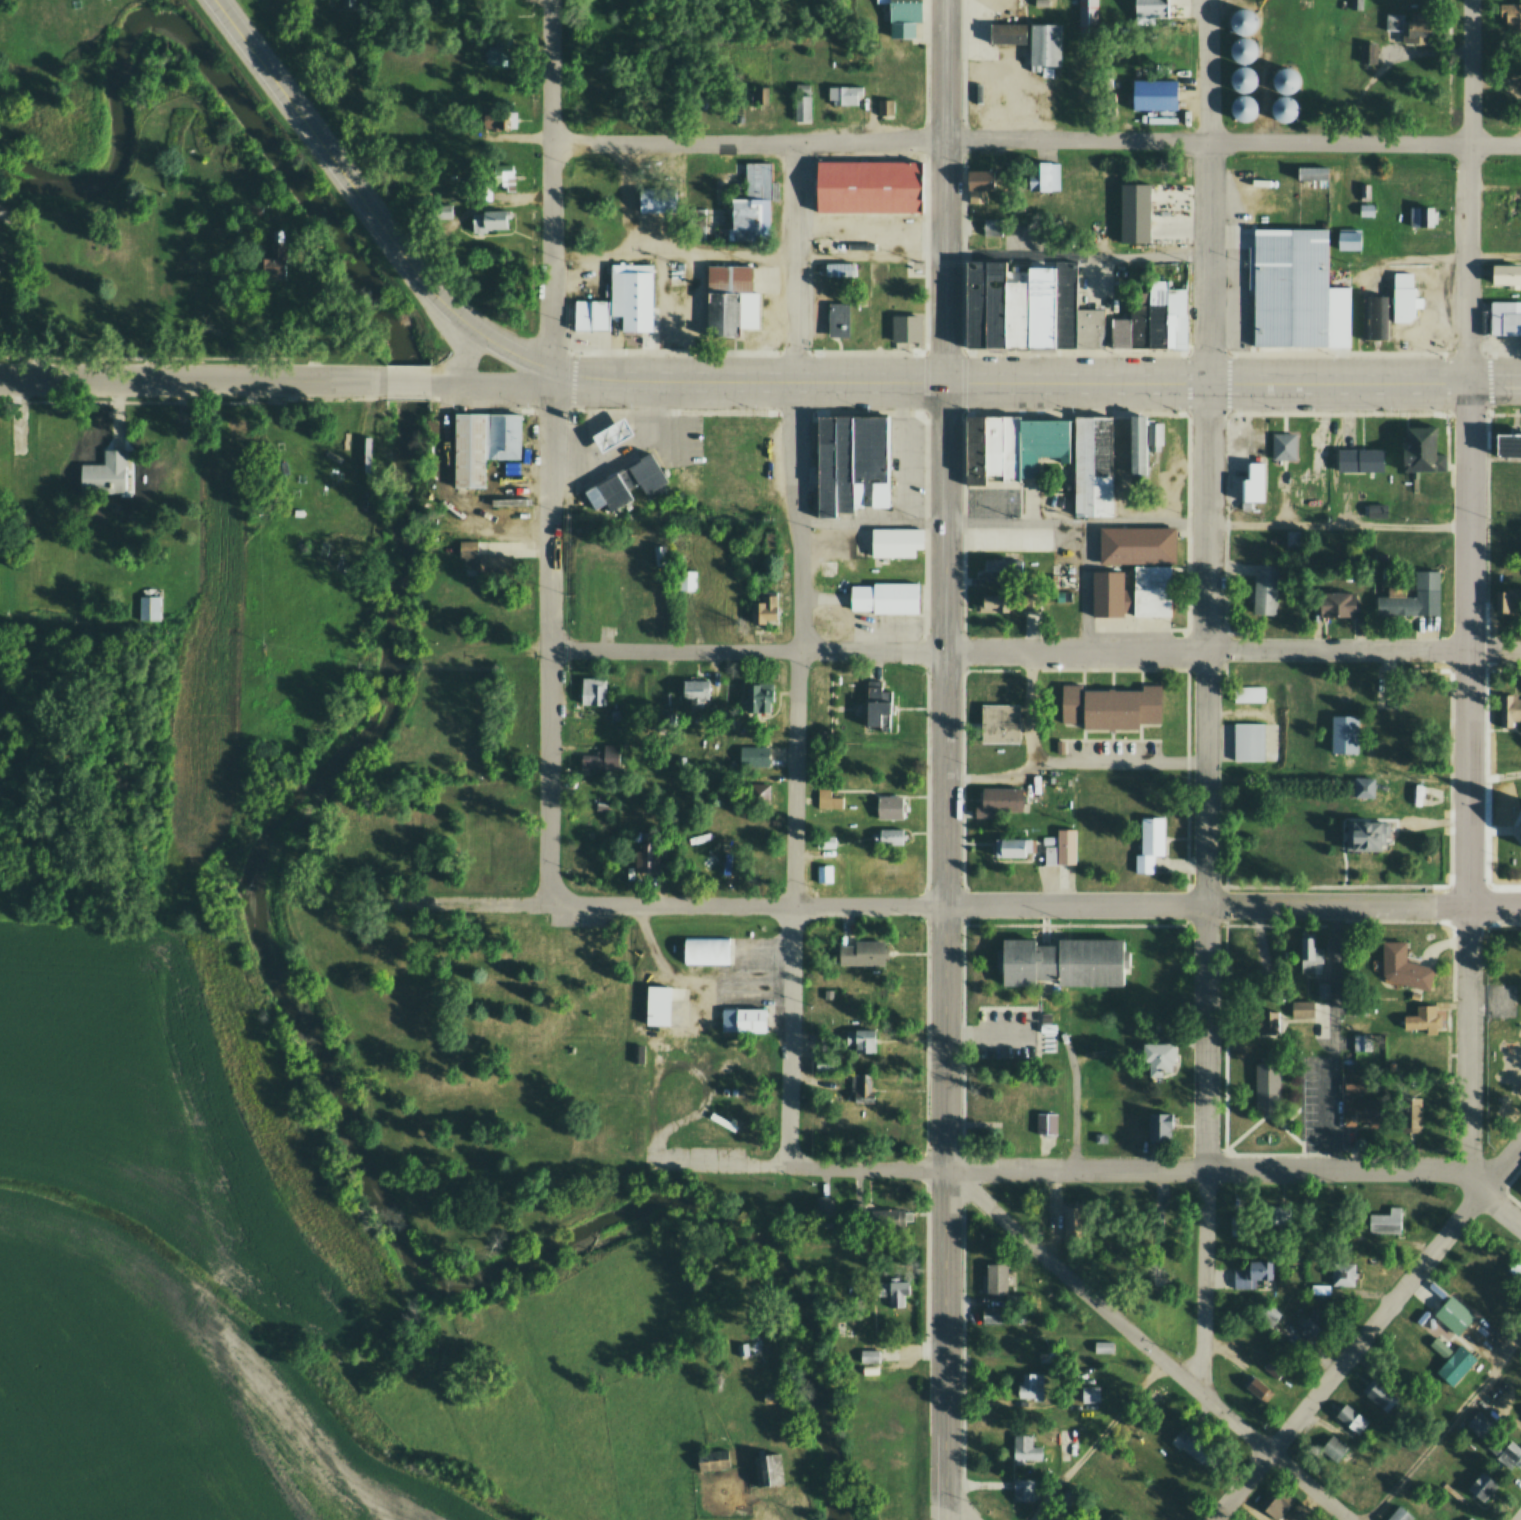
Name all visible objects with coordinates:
building: (350, 3)
building: (507, 4)
building: (1355, 5)
building: (1151, 8)
building: (1088, 12)
building: (902, 16)
building: (1243, 20)
silo: (1243, 20)
building: (1509, 20)
building: (1412, 29)
building: (1007, 32)
building: (1045, 43)
building: (1241, 49)
silo: (1241, 49)
building: (1284, 53)
building: (1367, 54)
building: (501, 55)
building: (1243, 78)
silo: (1243, 78)
building: (1285, 79)
silo: (1285, 79)
building: (426, 83)
building: (765, 94)
building: (1153, 96)
building: (846, 97)
building: (802, 103)
building: (884, 107)
building: (1244, 107)
silo: (1244, 107)
building: (1285, 108)
silo: (1285, 108)
building: (497, 124)
road: (1036, 138)
building: (491, 172)
building: (1313, 173)
road: (926, 175)
road: (964, 175)
building: (1043, 175)
building: (982, 182)
road: (551, 184)
building: (868, 186)
road: (946, 191)
road: (1208, 192)
road: (1468, 192)
building: (657, 200)
building: (753, 200)
building: (1367, 201)
building: (1513, 202)
road: (365, 203)
building: (253, 211)
building: (1134, 211)
building: (1170, 213)
building: (1421, 217)
building: (488, 219)
building: (991, 227)
building: (1349, 240)
building: (273, 255)
road: (1002, 259)
road: (796, 262)
road: (1190, 268)
building: (839, 270)
building: (1506, 274)
building: (1296, 289)
building: (633, 296)
building: (731, 299)
building: (1405, 299)
building: (1028, 307)
building: (590, 315)
building: (1375, 316)
building: (1505, 317)
building: (839, 320)
building: (1152, 321)
building: (906, 328)
road: (1091, 351)
road: (750, 352)
road: (143, 355)
road: (1445, 355)
road: (1504, 355)
road: (463, 357)
road: (191, 380)
road: (406, 381)
road: (491, 382)
road: (878, 383)
road: (1364, 384)
road: (406, 396)
road: (194, 400)
road: (605, 410)
road: (1011, 411)
road: (1504, 417)
gas station: (611, 433)
building: (502, 435)
building: (1011, 445)
building: (1508, 446)
building: (1285, 447)
building: (467, 450)
building: (1422, 450)
road: (1447, 453)
building: (1109, 457)
building: (1361, 460)
building: (850, 461)
building: (649, 471)
building: (106, 476)
building: (1253, 483)
building: (610, 489)
road: (1487, 489)
building: (1377, 512)
road: (1133, 522)
building: (768, 538)
building: (1292, 539)
building: (894, 542)
building: (1138, 546)
building: (659, 554)
building: (482, 560)
building: (1003, 572)
building: (685, 579)
building: (1266, 590)
building: (600, 593)
building: (1130, 594)
building: (1414, 596)
building: (885, 597)
building: (1508, 600)
building: (1009, 602)
building: (1336, 602)
building: (148, 608)
building: (763, 610)
road: (550, 636)
road: (1470, 643)
road: (1232, 648)
road: (747, 649)
road: (1225, 649)
road: (1188, 668)
road: (1074, 670)
building: (696, 689)
building: (596, 691)
building: (1250, 695)
building: (759, 696)
building: (877, 707)
building: (1111, 708)
building: (1509, 710)
building: (479, 712)
building: (1000, 724)
building: (1345, 733)
building: (1250, 743)
building: (755, 757)
building: (600, 760)
building: (893, 770)
road: (795, 774)
road: (1451, 775)
building: (1364, 786)
building: (757, 794)
building: (830, 800)
building: (1000, 802)
road: (1486, 804)
river: (291, 807)
building: (891, 809)
road: (1516, 830)
road: (1506, 831)
building: (1366, 832)
building: (887, 837)
building: (1013, 847)
building: (1152, 847)
building: (1063, 849)
building: (509, 850)
building: (648, 852)
building: (825, 874)
road: (926, 883)
road: (1334, 884)
road: (1207, 885)
road: (1502, 888)
road: (930, 904)
road: (1494, 904)
road: (1224, 924)
road: (962, 935)
building: (705, 949)
road: (945, 952)
building: (863, 953)
building: (1307, 955)
building: (1061, 959)
building: (1405, 968)
road: (1038, 987)
building: (1323, 992)
park: (1502, 1000)
building: (658, 1005)
road: (1019, 1009)
building: (1301, 1009)
building: (742, 1017)
building: (1422, 1019)
building: (1269, 1022)
building: (1046, 1024)
building: (863, 1040)
road: (1468, 1047)
building: (638, 1053)
park: (475, 1055)
building: (1156, 1056)
building: (826, 1061)
road: (698, 1072)
building: (1420, 1076)
building: (1353, 1081)
building: (1266, 1083)
building: (863, 1087)
road: (1448, 1089)
road: (1224, 1090)
road: (1333, 1109)
building: (1362, 1110)
building: (1409, 1112)
road: (1265, 1116)
road: (1291, 1118)
building: (1046, 1124)
building: (1158, 1125)
road: (929, 1167)
road: (1479, 1167)
road: (1373, 1168)
road: (1513, 1177)
building: (1519, 1185)
building: (1520, 1191)
building: (821, 1205)
building: (877, 1216)
building: (1073, 1217)
building: (1156, 1220)
building: (1388, 1222)
building: (1514, 1268)
building: (1342, 1271)
building: (1252, 1272)
building: (1001, 1284)
building: (891, 1292)
building: (1270, 1313)
building: (1452, 1313)
building: (989, 1314)
building: (1311, 1325)
road: (1366, 1330)
road: (1146, 1344)
building: (1100, 1346)
building: (746, 1347)
building: (867, 1354)
building: (1451, 1359)
building: (1273, 1367)
building: (1029, 1385)
building: (1256, 1387)
building: (1089, 1392)
building: (1151, 1392)
building: (1379, 1393)
building: (767, 1395)
building: (1488, 1413)
building: (1350, 1418)
road: (1444, 1427)
building: (1191, 1444)
building: (1024, 1447)
building: (1334, 1447)
building: (1507, 1450)
building: (712, 1459)
building: (766, 1467)
building: (1481, 1485)
building: (1022, 1489)
building: (1068, 1493)
building: (1272, 1502)
road: (960, 1507)
building: (1400, 1514)
building: (1470, 1518)
road: (1519, 1518)

